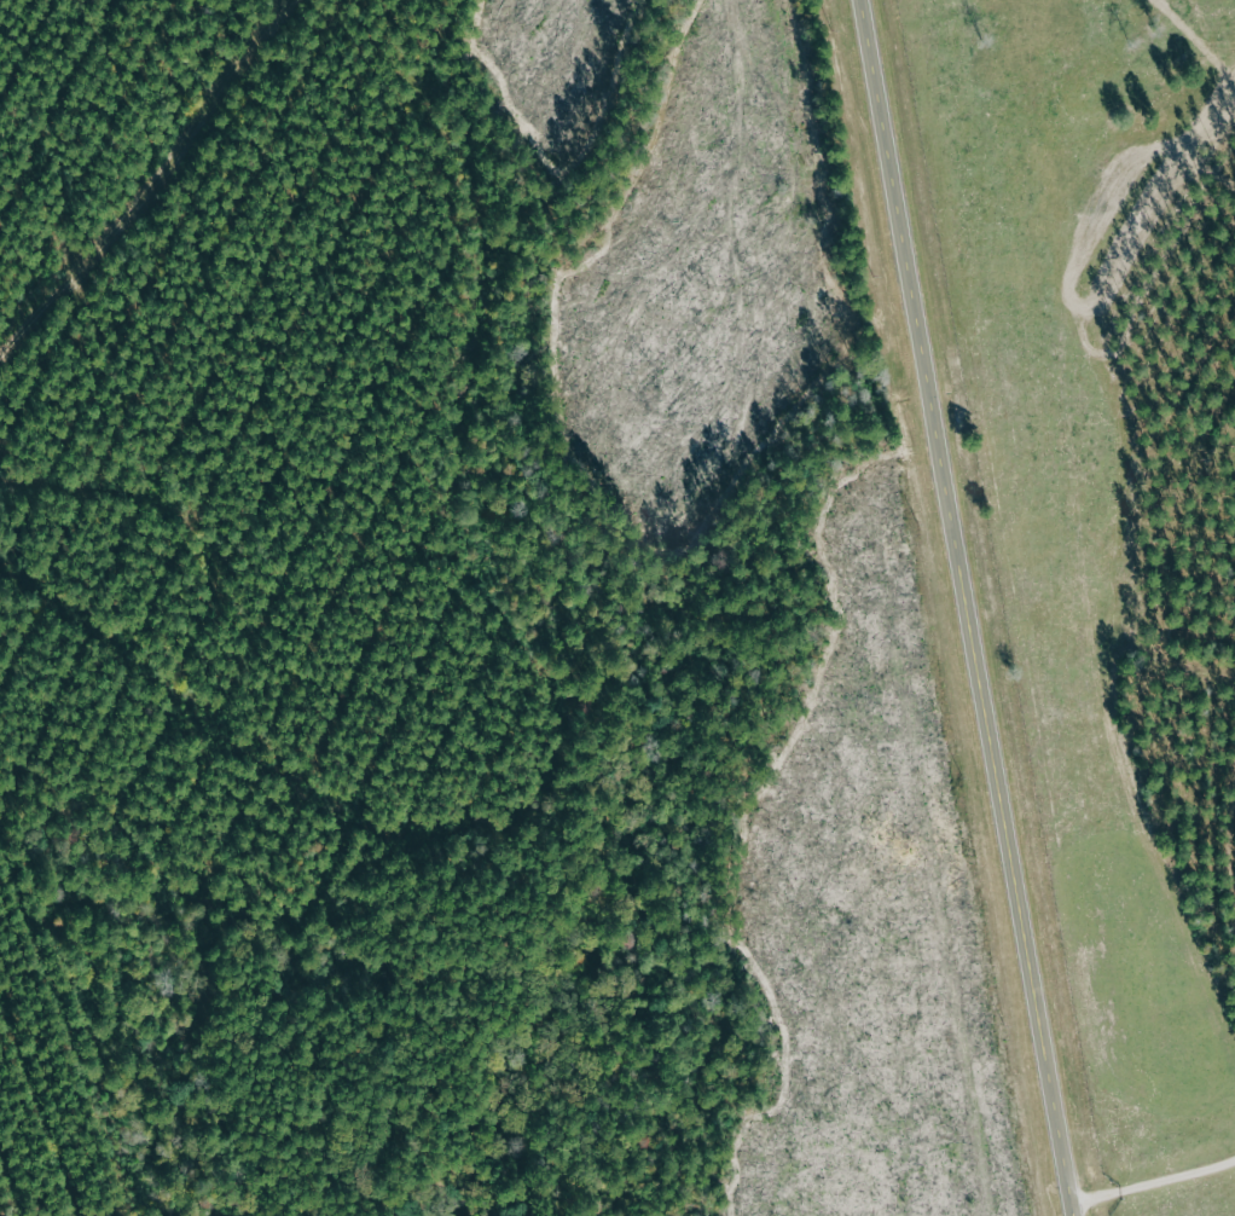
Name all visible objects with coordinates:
road: (968, 608)
road: (1154, 1180)

